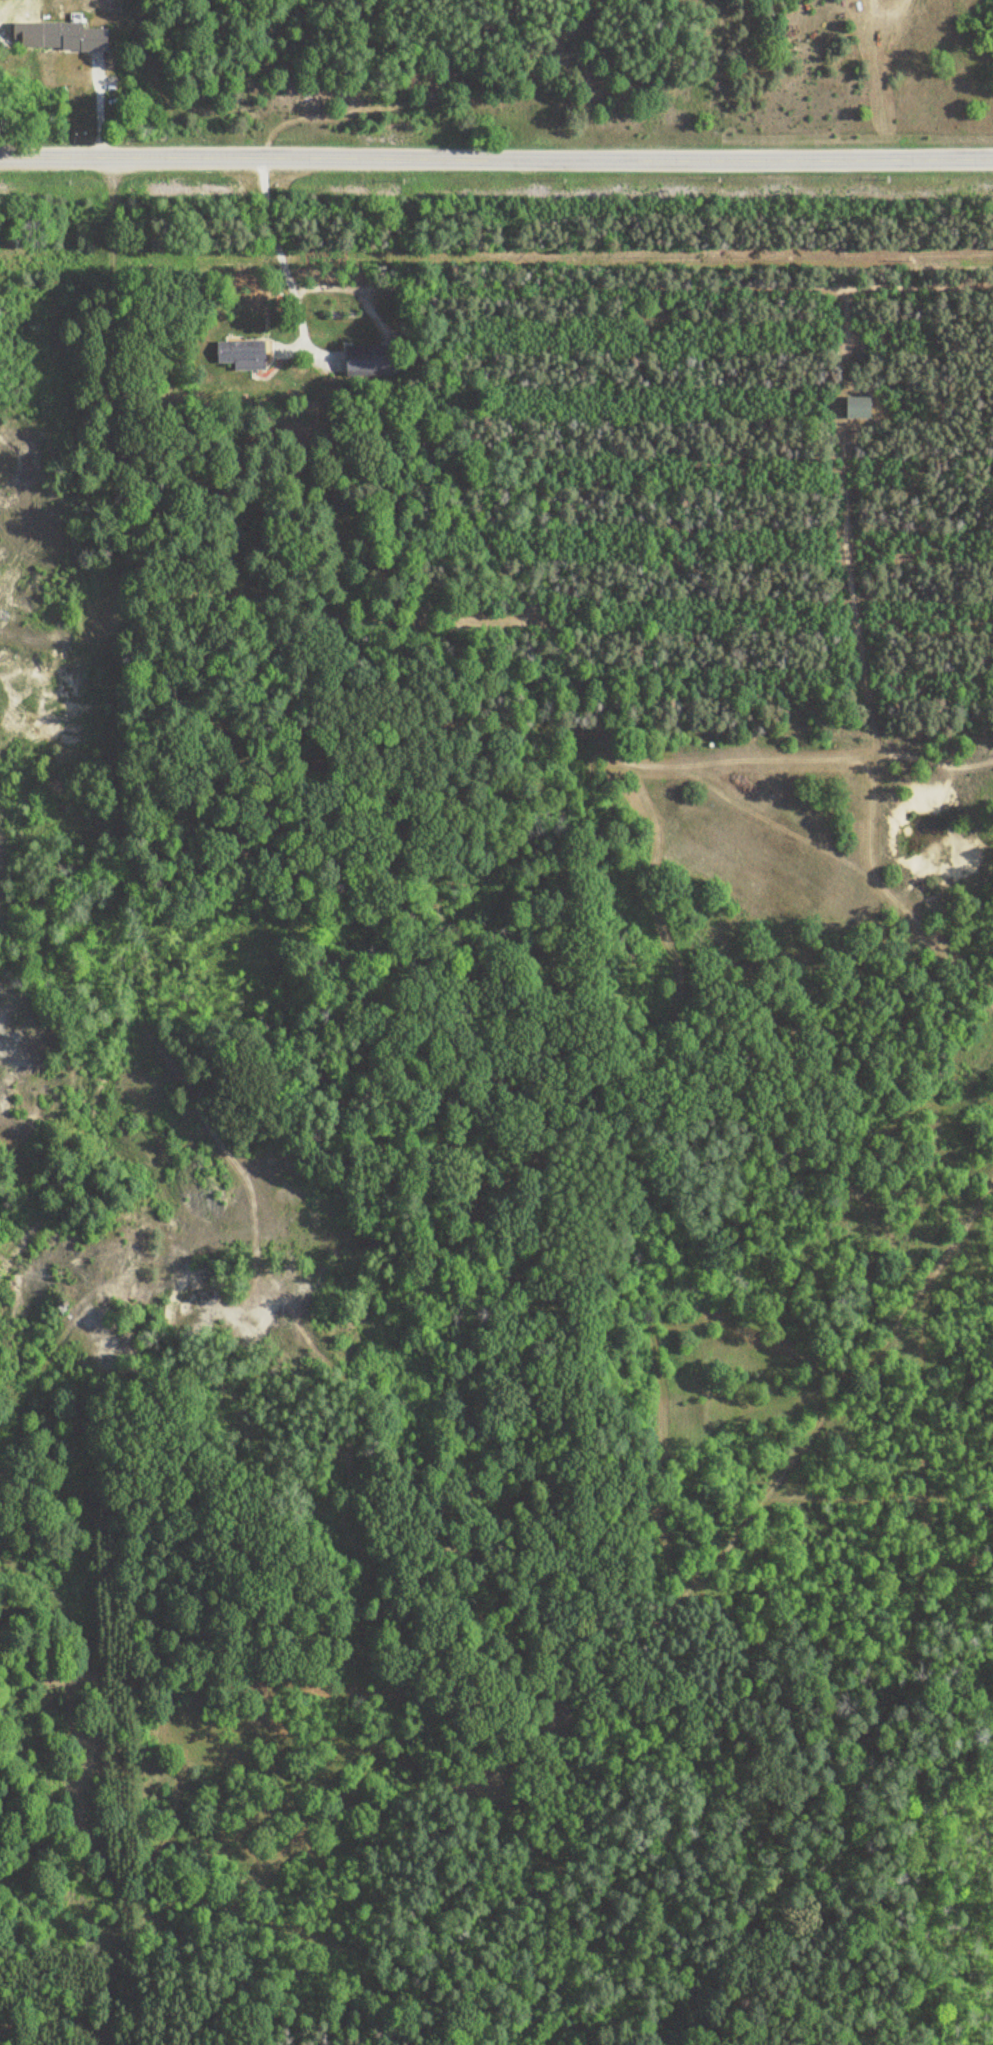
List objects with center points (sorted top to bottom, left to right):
building: (73, 37)
road: (496, 154)
road: (275, 257)
building: (242, 355)
building: (368, 359)
building: (860, 407)
quarry: (57, 650)
quarry: (110, 1221)

